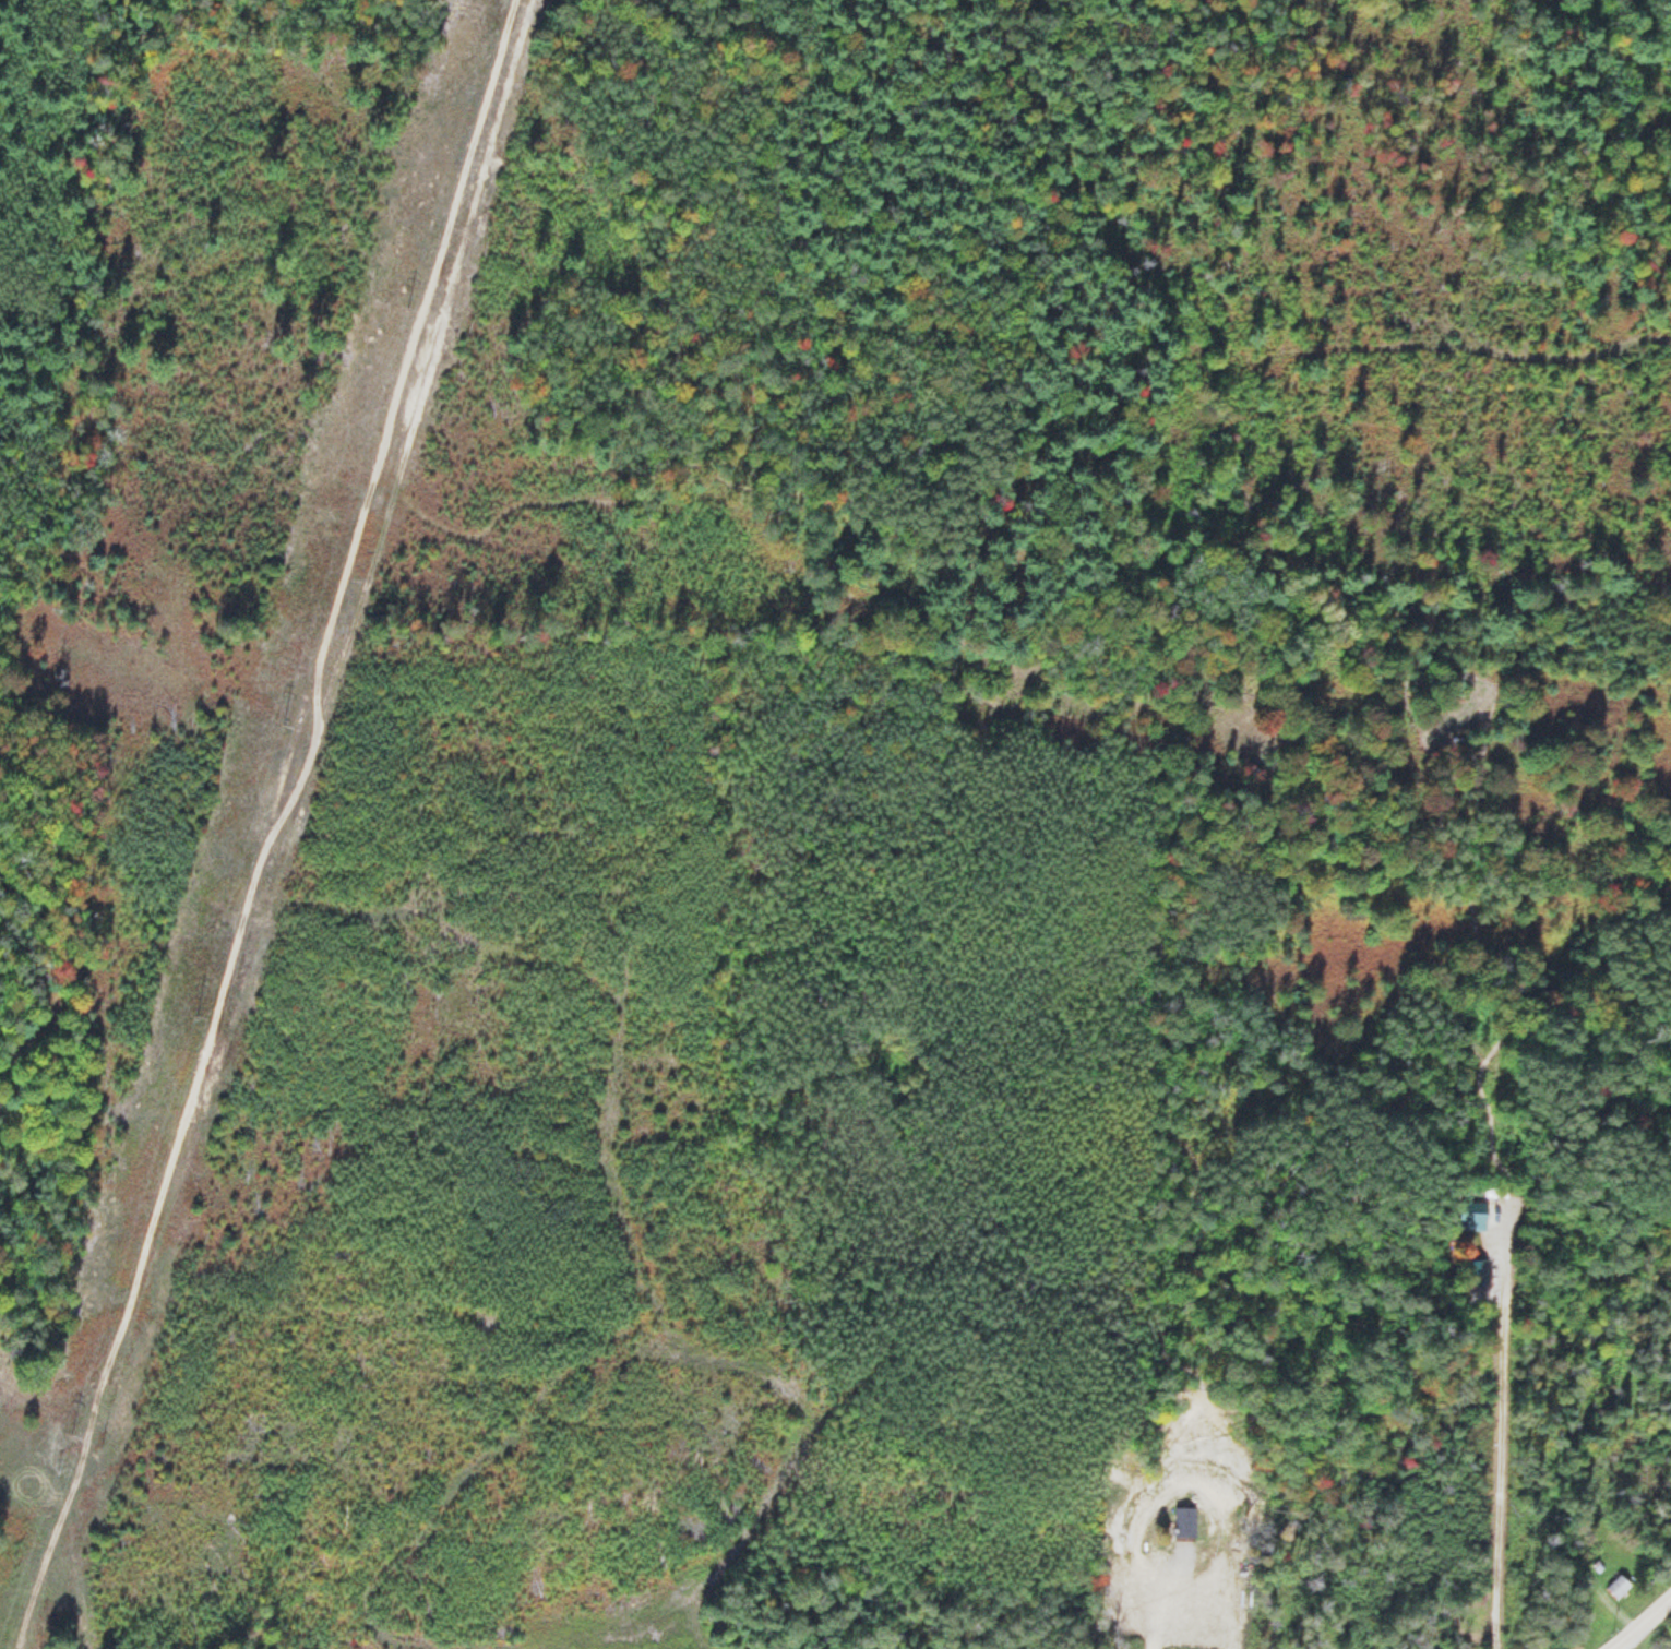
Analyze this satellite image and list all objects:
road: (270, 825)
building: (1472, 1217)
building: (1477, 1271)
building: (1183, 1521)
building: (1618, 1587)
road: (1644, 1626)
road: (333, 1629)

